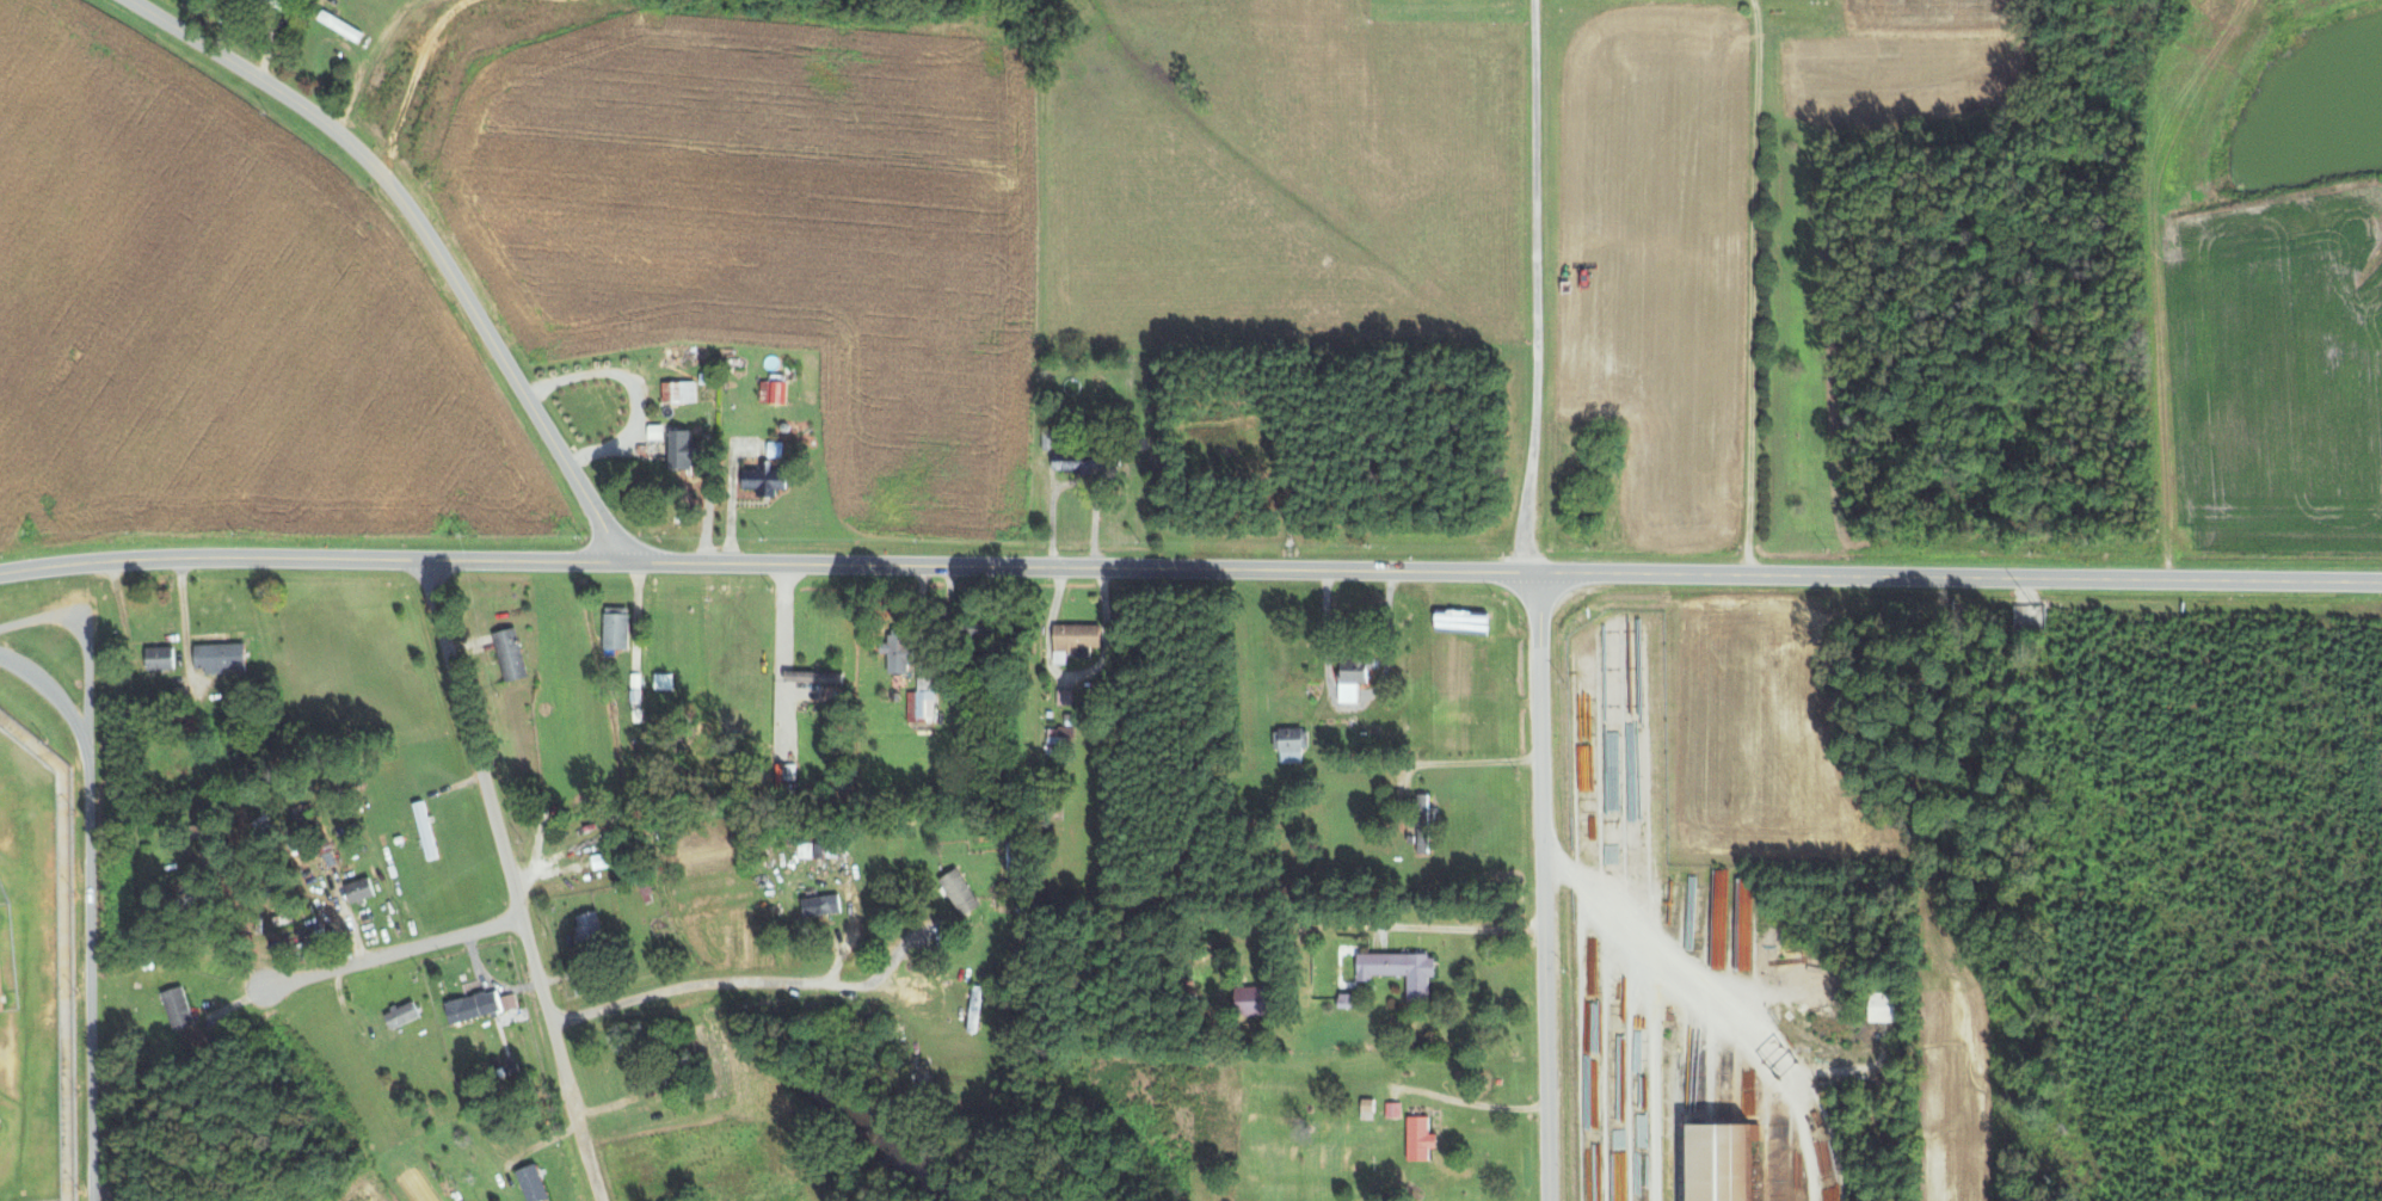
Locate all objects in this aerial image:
building: (340, 26)
road: (370, 63)
road: (421, 233)
road: (1535, 287)
road: (1750, 288)
road: (2155, 313)
building: (774, 390)
building: (679, 392)
building: (1051, 437)
building: (684, 449)
building: (1070, 460)
building: (764, 479)
road: (1190, 577)
building: (615, 629)
building: (1075, 639)
building: (898, 651)
building: (510, 653)
building: (220, 657)
building: (160, 658)
building: (813, 676)
building: (1354, 677)
road: (1073, 679)
building: (1064, 697)
road: (1354, 698)
building: (922, 701)
building: (1064, 734)
building: (1291, 739)
road: (1459, 763)
road: (494, 823)
building: (1422, 823)
building: (603, 860)
road: (1535, 886)
building: (359, 891)
building: (960, 892)
building: (821, 905)
road: (90, 909)
building: (589, 926)
road: (1454, 926)
road: (904, 942)
road: (393, 950)
road: (836, 965)
building: (1401, 971)
road: (709, 984)
building: (1254, 1000)
building: (509, 1002)
building: (0, 1004)
building: (473, 1005)
building: (1884, 1006)
building: (178, 1009)
building: (401, 1015)
road: (1365, 1079)
building: (1367, 1109)
building: (1393, 1109)
building: (0, 1122)
building: (1420, 1138)
road: (585, 1143)
building: (1724, 1162)
building: (533, 1183)

